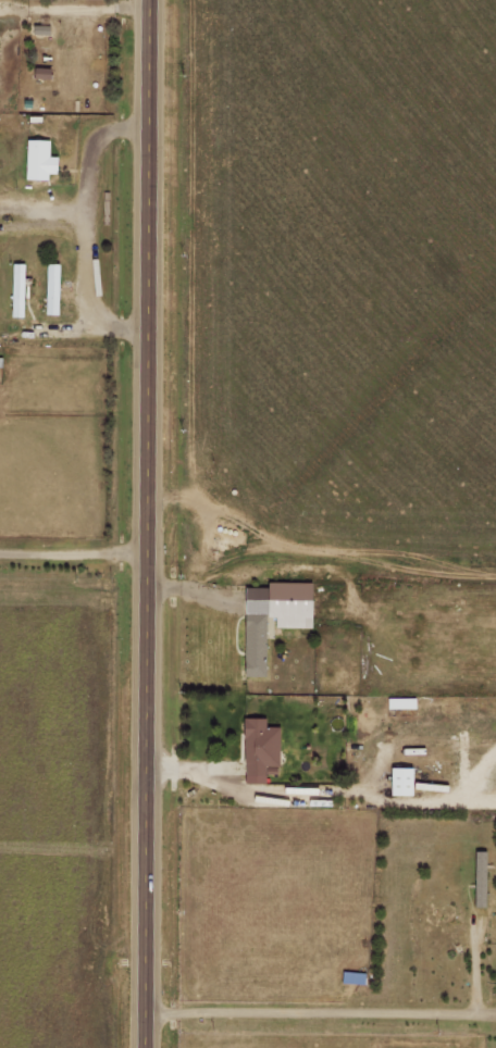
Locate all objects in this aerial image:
building: (36, 160)
building: (49, 288)
building: (14, 290)
road: (154, 298)
building: (253, 650)
building: (257, 746)
building: (398, 782)
road: (151, 822)

